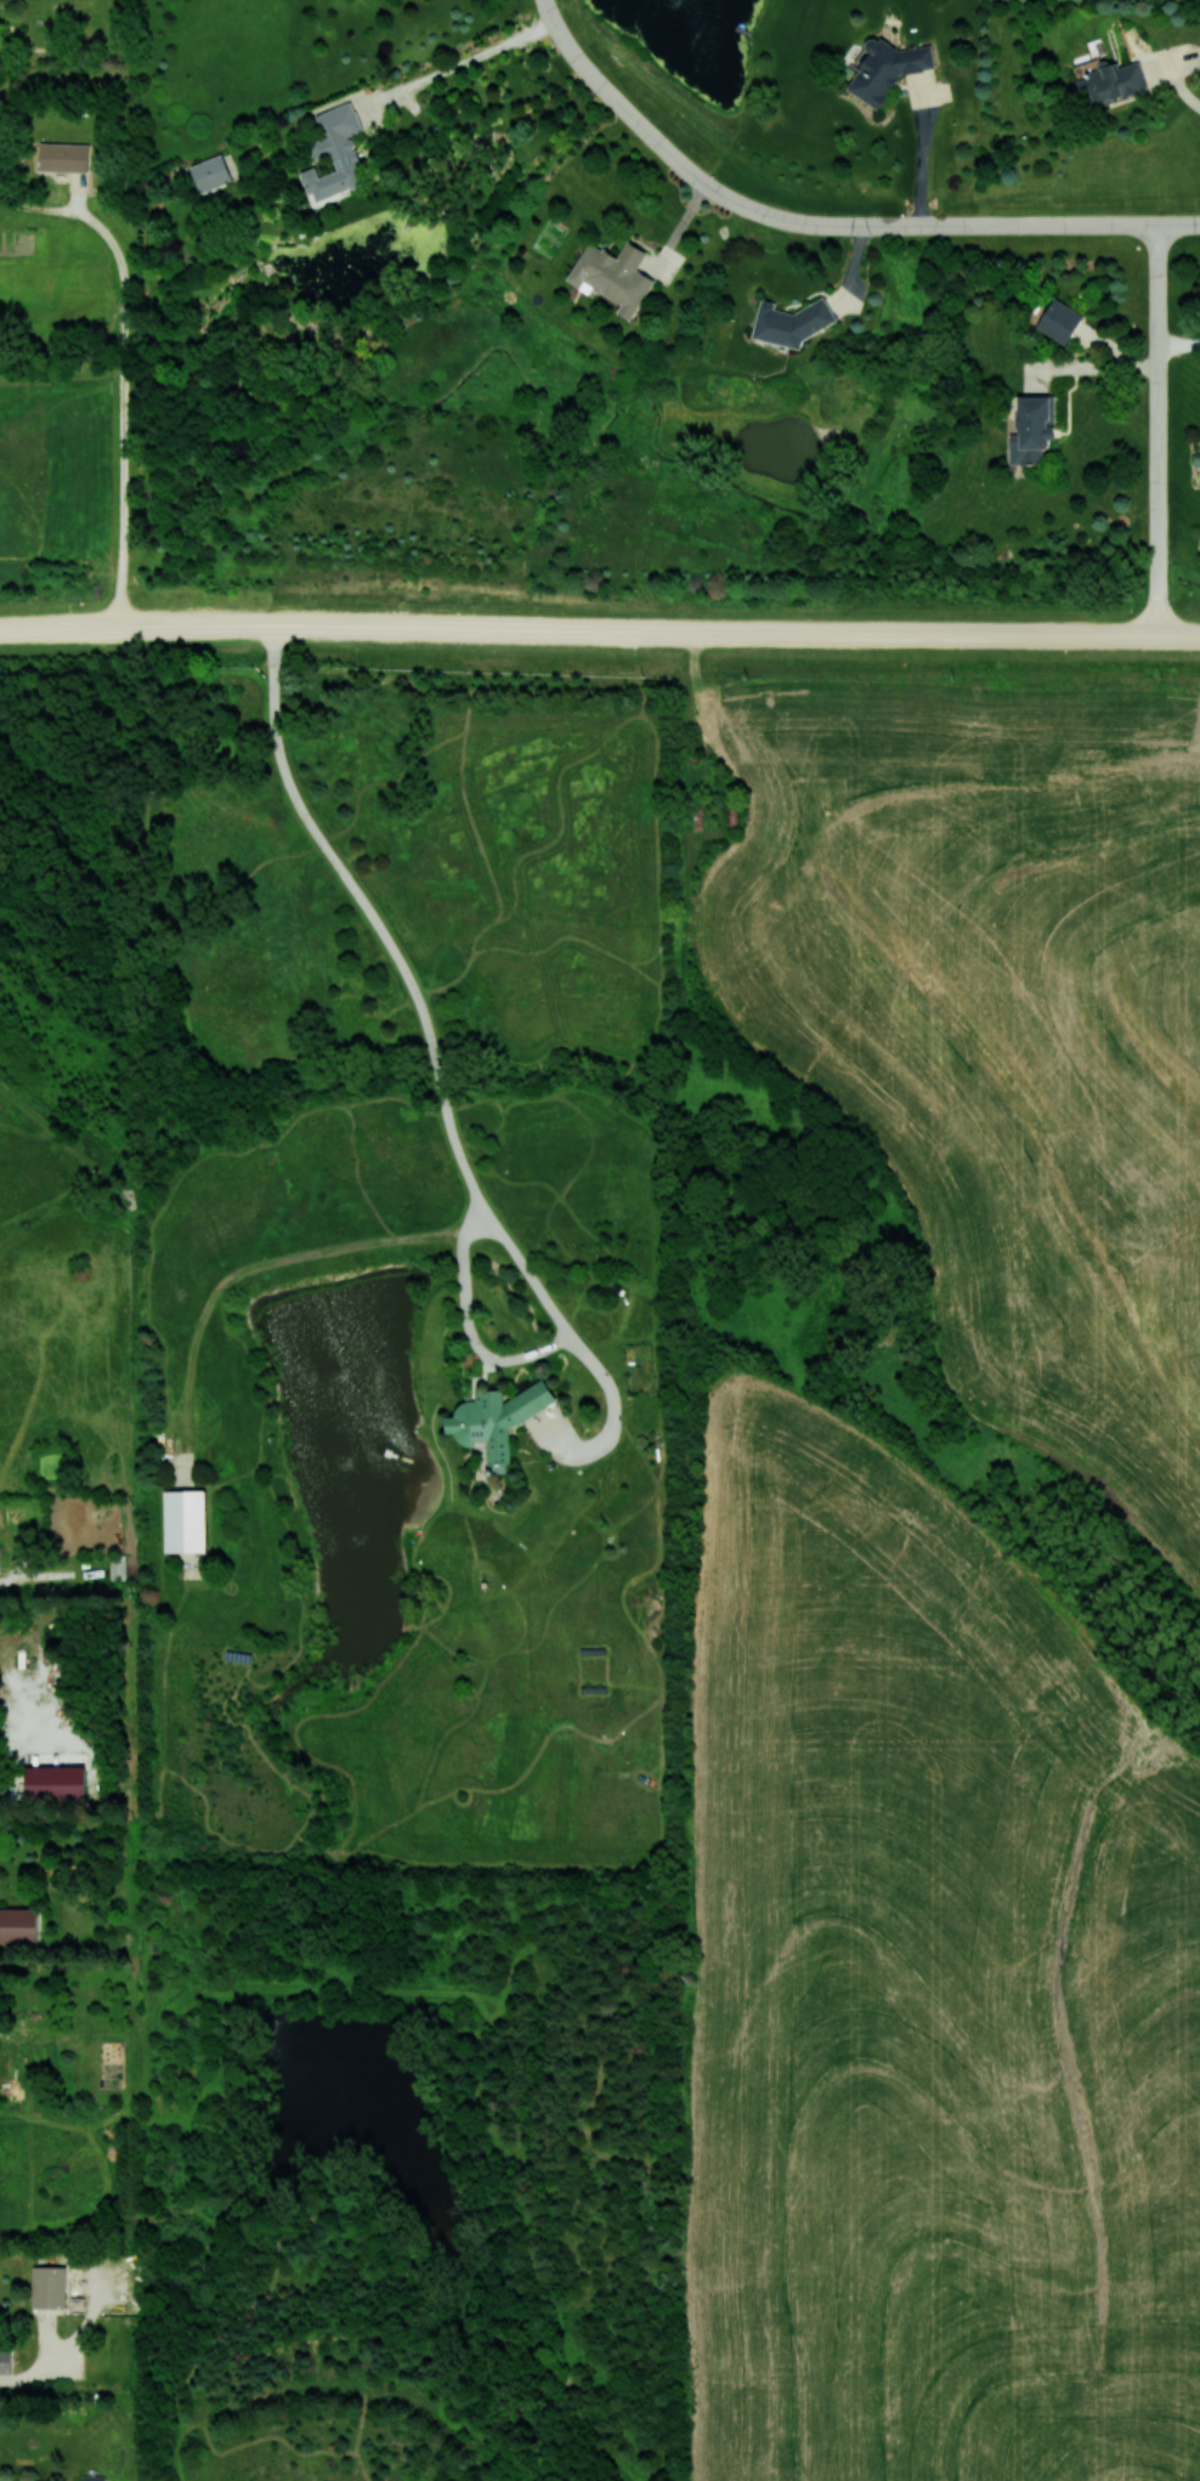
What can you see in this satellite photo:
road: (562, 40)
road: (465, 61)
building: (887, 68)
building: (1199, 70)
building: (1111, 83)
road: (1179, 90)
building: (336, 154)
road: (922, 154)
building: (64, 157)
building: (211, 172)
road: (728, 198)
road: (1087, 223)
road: (941, 225)
building: (613, 274)
building: (1059, 321)
building: (786, 323)
road: (1092, 368)
road: (125, 397)
building: (1032, 429)
road: (1156, 430)
road: (72, 629)
road: (672, 634)
crop: (998, 1026)
road: (441, 1091)
building: (497, 1417)
building: (186, 1520)
building: (0, 1574)
building: (55, 1783)
building: (2, 1789)
building: (18, 1926)
crop: (928, 1996)
building: (49, 2287)
building: (5, 2362)
building: (92, 2477)

